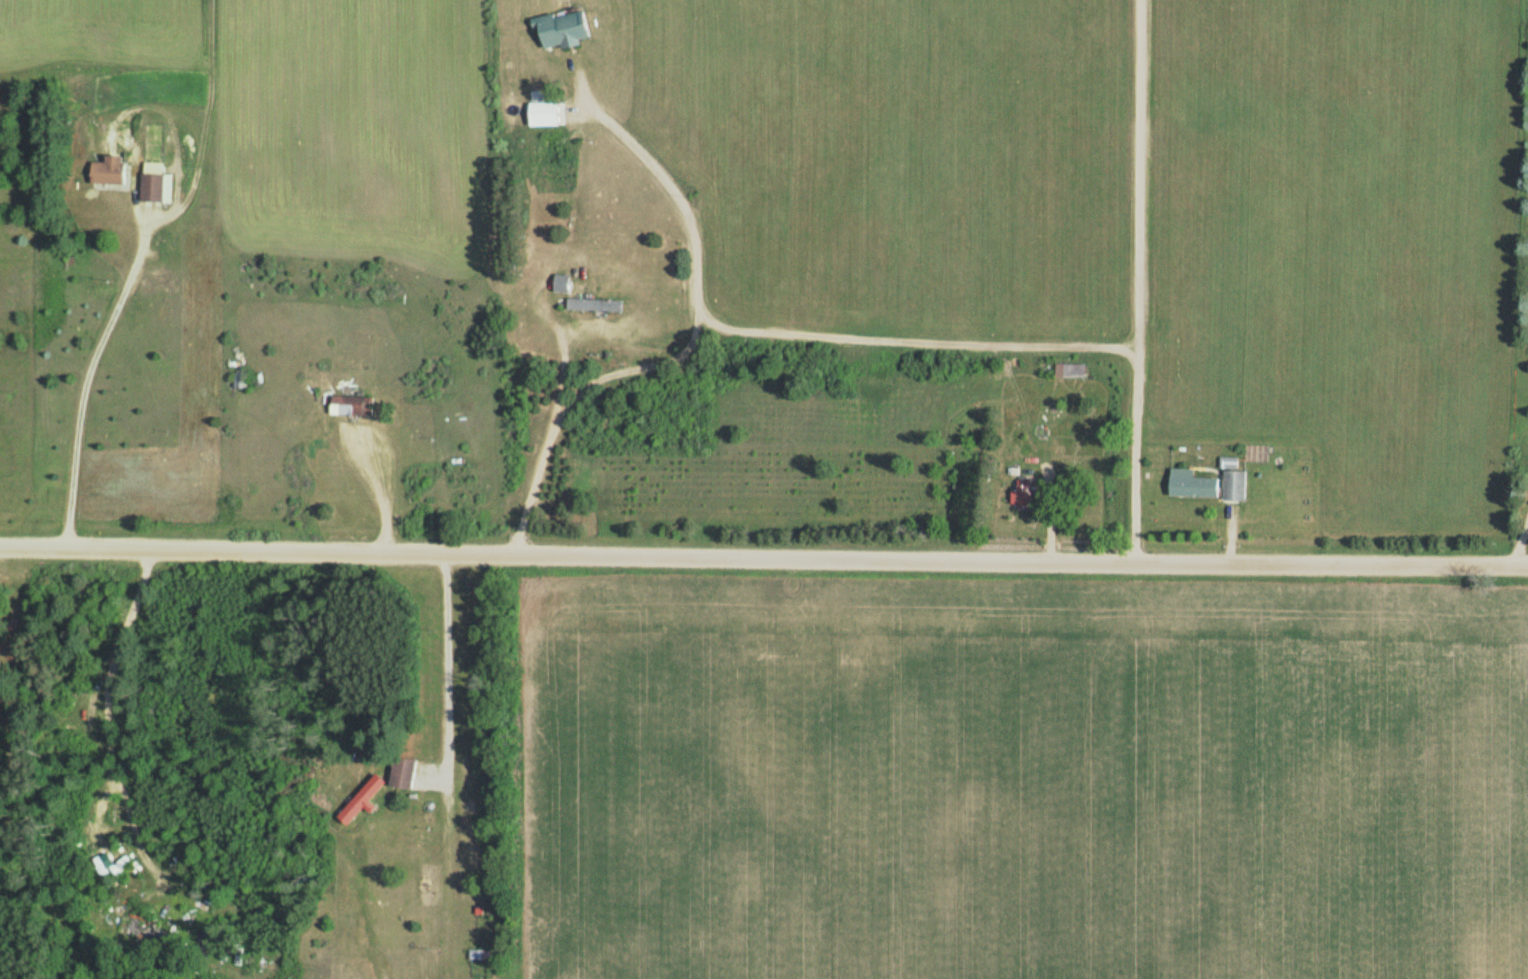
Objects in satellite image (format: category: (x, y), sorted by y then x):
building: (568, 28)
building: (549, 114)
building: (113, 171)
building: (160, 188)
road: (1140, 282)
road: (1513, 283)
building: (597, 305)
building: (356, 406)
building: (1196, 484)
building: (1237, 485)
building: (1026, 494)
road: (763, 559)
road: (10, 699)
building: (407, 771)
building: (367, 799)
road: (486, 828)
building: (483, 955)

